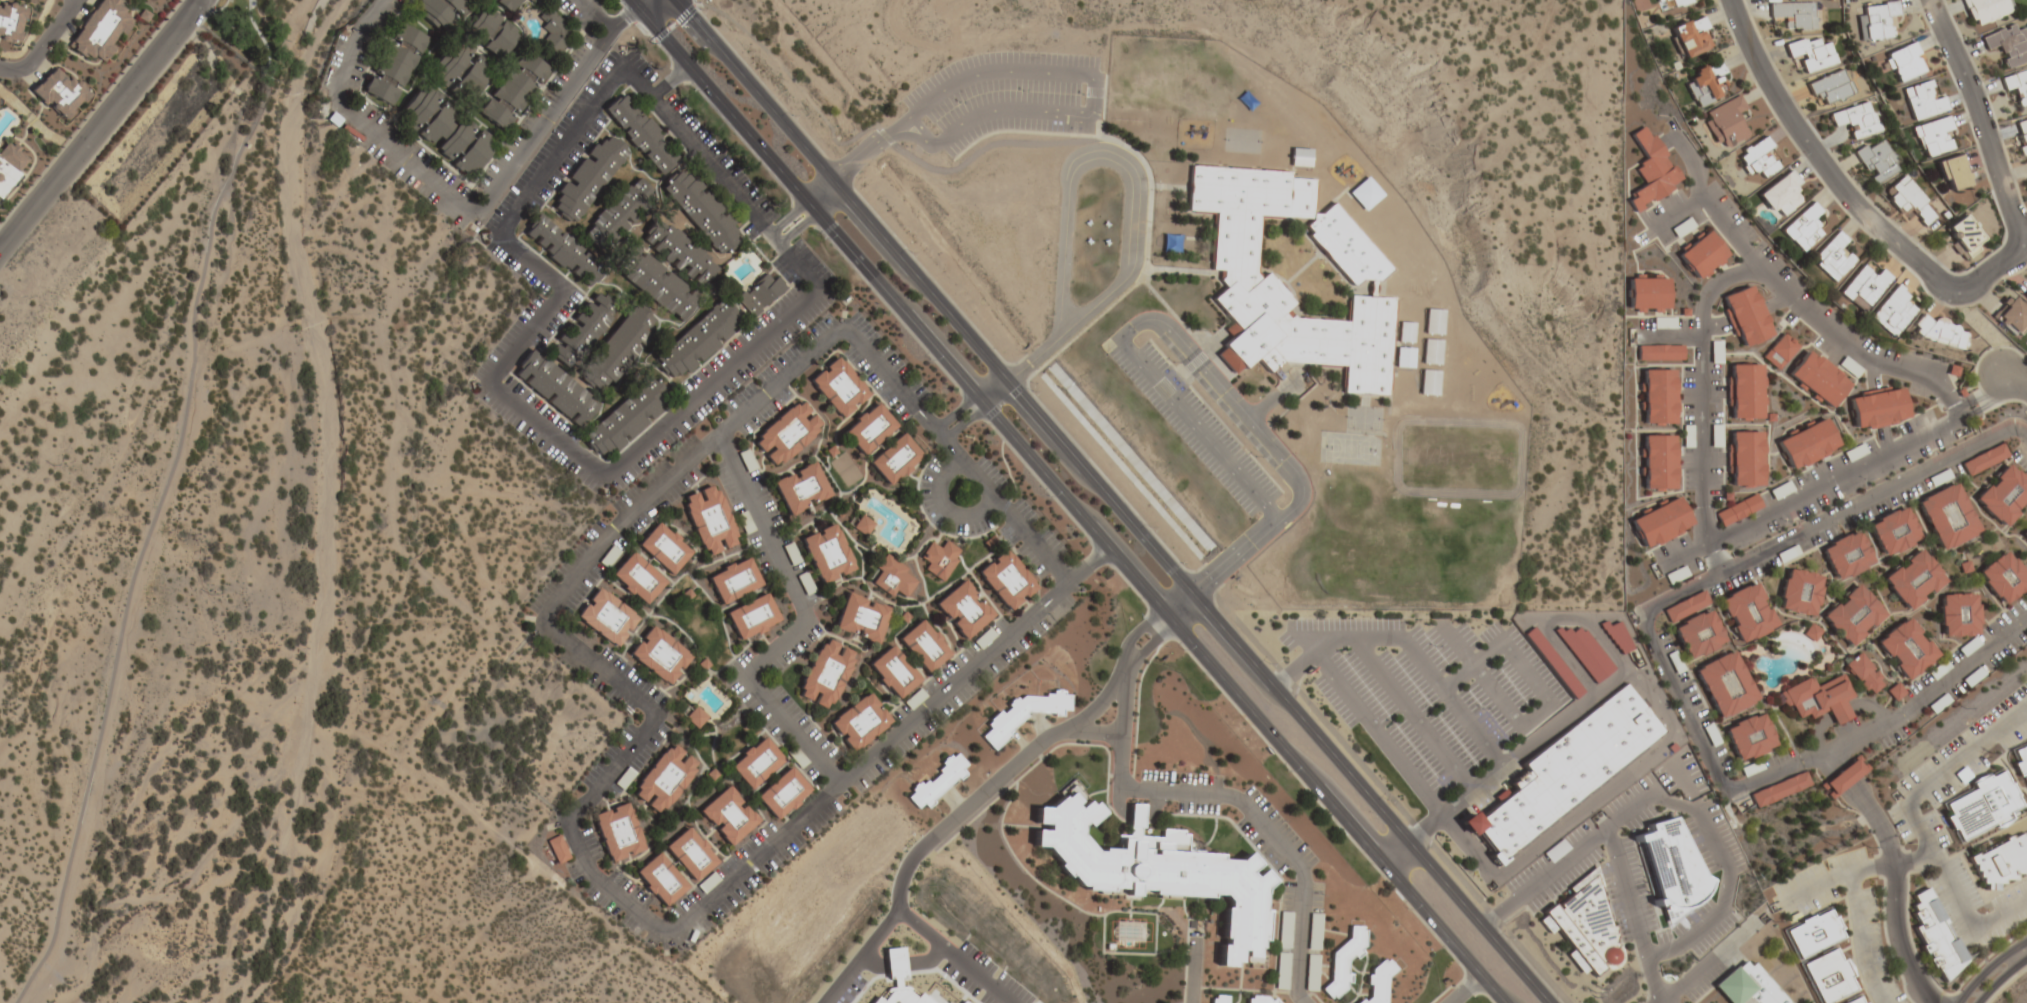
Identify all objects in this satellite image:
building: (1678, 3)
building: (507, 5)
road: (209, 9)
building: (442, 9)
road: (663, 10)
street lamp: (700, 10)
building: (1986, 10)
road: (237, 14)
building: (1795, 15)
road: (599, 16)
road: (629, 19)
traffic signals: (653, 20)
building: (10, 22)
building: (1877, 22)
building: (100, 31)
park: (258, 32)
building: (553, 32)
building: (492, 34)
building: (1692, 37)
street lamp: (1964, 41)
road: (43, 43)
building: (2008, 45)
building: (1812, 54)
building: (1905, 63)
building: (395, 65)
building: (461, 71)
building: (1706, 84)
building: (2017, 86)
building: (1831, 87)
building: (513, 91)
street lamp: (694, 91)
street lamp: (1020, 91)
road: (1093, 92)
building: (58, 93)
building: (1922, 102)
street lamp: (956, 103)
street lamp: (792, 116)
building: (1857, 120)
building: (1727, 123)
road: (98, 125)
building: (445, 131)
building: (639, 135)
building: (1934, 137)
building: (2022, 137)
street lamp: (904, 146)
road: (1112, 156)
street lamp: (1799, 156)
building: (1300, 158)
building: (1759, 159)
building: (1878, 161)
building: (2026, 163)
building: (11, 165)
road: (847, 166)
building: (1652, 170)
road: (713, 171)
building: (1954, 173)
street lamp: (34, 179)
building: (588, 179)
street lamp: (1155, 192)
building: (1365, 195)
building: (1780, 195)
road: (448, 198)
building: (1909, 200)
road: (1705, 204)
road: (808, 209)
road: (805, 212)
building: (619, 214)
building: (701, 214)
road: (1673, 217)
building: (1682, 228)
building: (1803, 229)
building: (1965, 235)
street lamp: (823, 239)
building: (562, 251)
street lamp: (911, 253)
building: (679, 255)
building: (1702, 256)
building: (1832, 258)
street lamp: (1150, 262)
building: (1293, 276)
building: (658, 286)
road: (1940, 287)
building: (1863, 288)
building: (760, 295)
building: (1648, 295)
building: (2026, 297)
building: (1892, 312)
building: (1746, 315)
building: (2011, 316)
building: (1434, 322)
building: (583, 329)
building: (1939, 332)
building: (1405, 333)
building: (697, 341)
building: (617, 351)
building: (1431, 352)
building: (1779, 352)
building: (1660, 354)
road: (1037, 356)
building: (1404, 358)
street lamp: (929, 360)
street lamp: (1172, 362)
building: (1850, 368)
road: (1147, 372)
road: (490, 379)
building: (1818, 379)
road: (2015, 379)
building: (1429, 383)
building: (554, 388)
building: (837, 388)
building: (1746, 391)
street lamp: (1032, 392)
building: (1659, 396)
building: (1877, 408)
road: (976, 410)
building: (625, 418)
street lamp: (957, 419)
road: (1698, 428)
building: (868, 429)
building: (787, 433)
street lamp: (2014, 441)
building: (1808, 444)
street lamp: (1254, 457)
building: (1746, 458)
building: (895, 459)
building: (1984, 460)
building: (747, 461)
building: (1659, 462)
building: (1940, 478)
building: (801, 489)
building: (1780, 491)
building: (2003, 496)
street lamp: (1048, 497)
road: (1068, 502)
road: (1112, 502)
road: (156, 506)
building: (1738, 510)
road: (944, 512)
building: (1947, 516)
building: (709, 521)
building: (745, 523)
building: (1661, 523)
building: (862, 526)
street lamp: (1150, 528)
building: (1893, 531)
building: (2024, 534)
building: (664, 548)
building: (827, 554)
building: (791, 555)
building: (1846, 555)
building: (938, 559)
building: (892, 578)
building: (2003, 578)
building: (637, 579)
building: (734, 580)
building: (1006, 580)
building: (1914, 580)
building: (1799, 593)
building: (1686, 607)
building: (963, 609)
building: (1747, 613)
building: (1853, 615)
building: (1958, 615)
building: (606, 617)
building: (752, 617)
street lamp: (1362, 617)
building: (861, 619)
road: (1551, 620)
street lamp: (1485, 627)
building: (1812, 633)
road: (801, 634)
building: (1698, 634)
building: (1615, 635)
building: (984, 639)
building: (924, 646)
street lamp: (1433, 647)
building: (1968, 647)
building: (1907, 649)
street lamp: (1181, 650)
building: (1583, 651)
building: (659, 655)
street lamp: (1341, 655)
road: (1510, 658)
building: (1552, 662)
street lamp: (1269, 665)
road: (1663, 666)
building: (1939, 670)
road: (1294, 671)
building: (893, 672)
building: (825, 674)
building: (1865, 675)
road: (1481, 676)
building: (1972, 678)
building: (1725, 685)
street lamp: (1319, 696)
building: (1819, 699)
building: (915, 700)
street lamp: (1528, 707)
street lamp: (1481, 709)
building: (1022, 715)
road: (1411, 716)
building: (695, 718)
building: (859, 722)
street lamp: (1391, 723)
road: (1088, 731)
building: (1711, 736)
building: (1749, 737)
road: (1533, 743)
building: (2020, 760)
building: (755, 765)
building: (1751, 769)
building: (1565, 770)
road: (1945, 770)
building: (1843, 777)
building: (664, 779)
road: (992, 780)
building: (937, 783)
building: (1779, 790)
building: (782, 794)
road: (1192, 800)
street lamp: (1388, 801)
building: (1980, 805)
road: (1686, 810)
building: (727, 818)
building: (617, 832)
power tower: (1833, 841)
road: (583, 844)
building: (557, 849)
building: (1555, 850)
building: (689, 855)
road: (1910, 857)
building: (2001, 861)
building: (1675, 865)
building: (1157, 871)
building: (660, 880)
road: (1815, 886)
road: (1627, 893)
road: (1897, 896)
road: (1964, 915)
road: (1854, 917)
building: (1584, 927)
building: (1285, 930)
building: (1813, 931)
building: (1314, 932)
building: (1934, 934)
road: (859, 956)
road: (953, 956)
road: (1702, 961)
building: (1344, 962)
road: (1993, 971)
road: (1188, 973)
building: (1312, 973)
building: (1828, 975)
road: (2003, 980)
building: (1378, 983)
building: (1748, 985)
road: (1464, 989)
street lamp: (1954, 991)
street lamp: (1644, 998)
building: (1219, 999)
building: (1262, 1000)
building: (1853, 1000)
road: (1657, 1001)
building: (1863, 1002)

